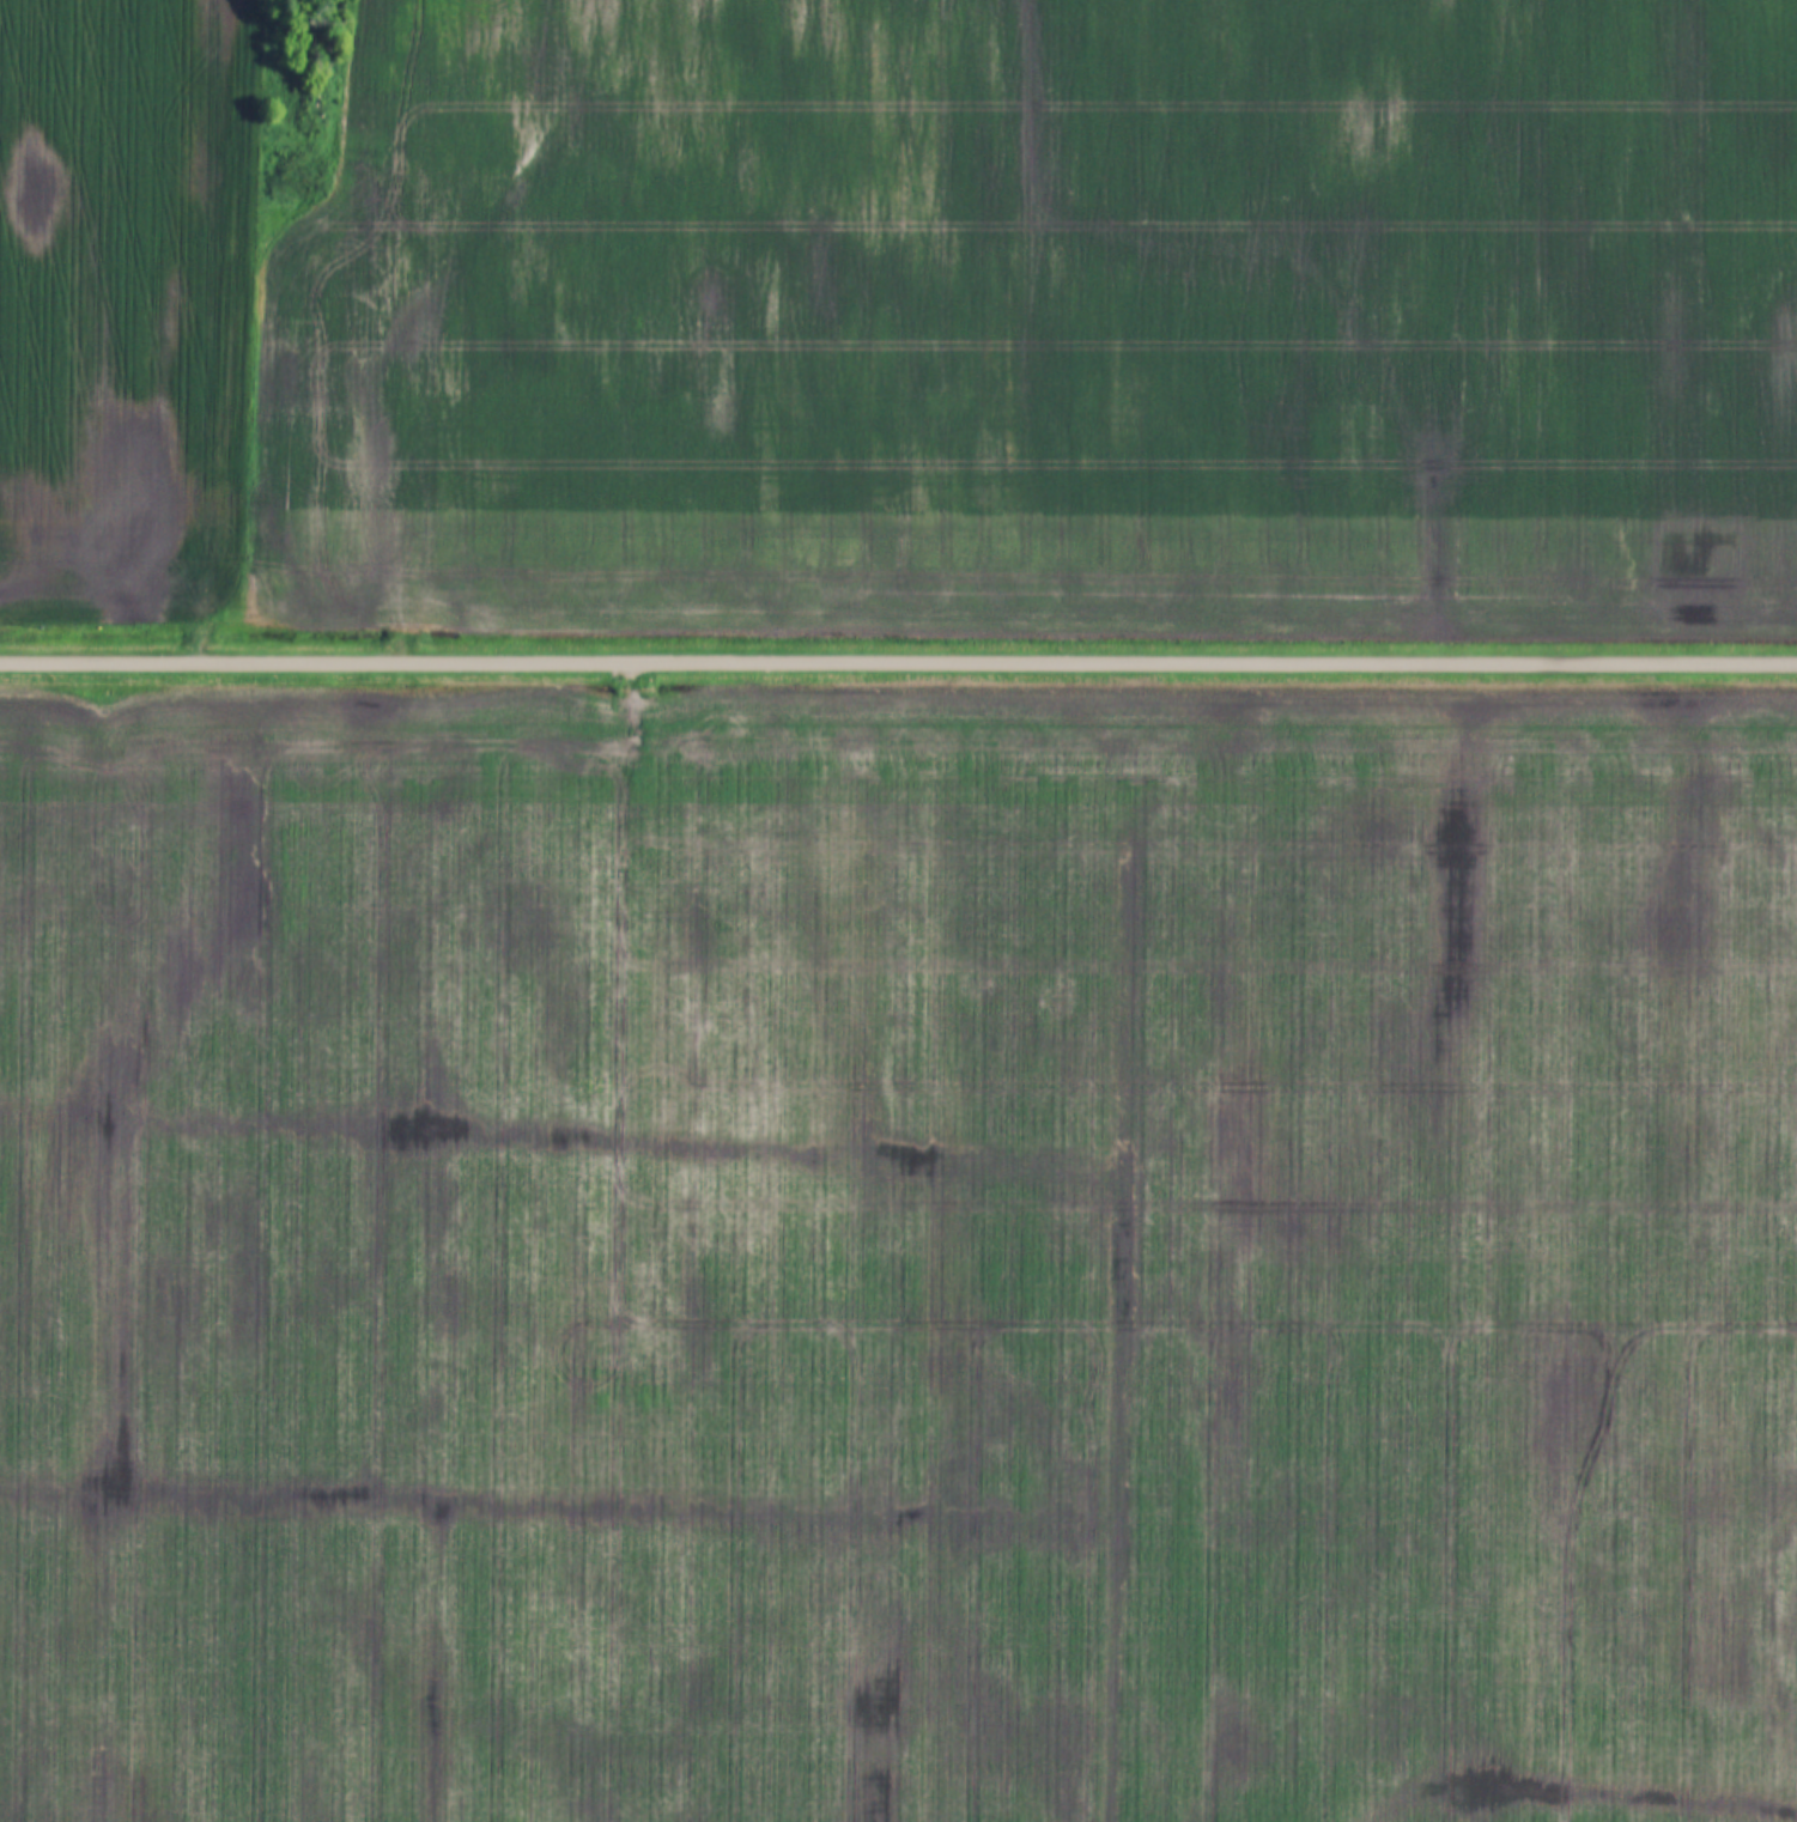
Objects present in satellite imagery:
road: (898, 662)

